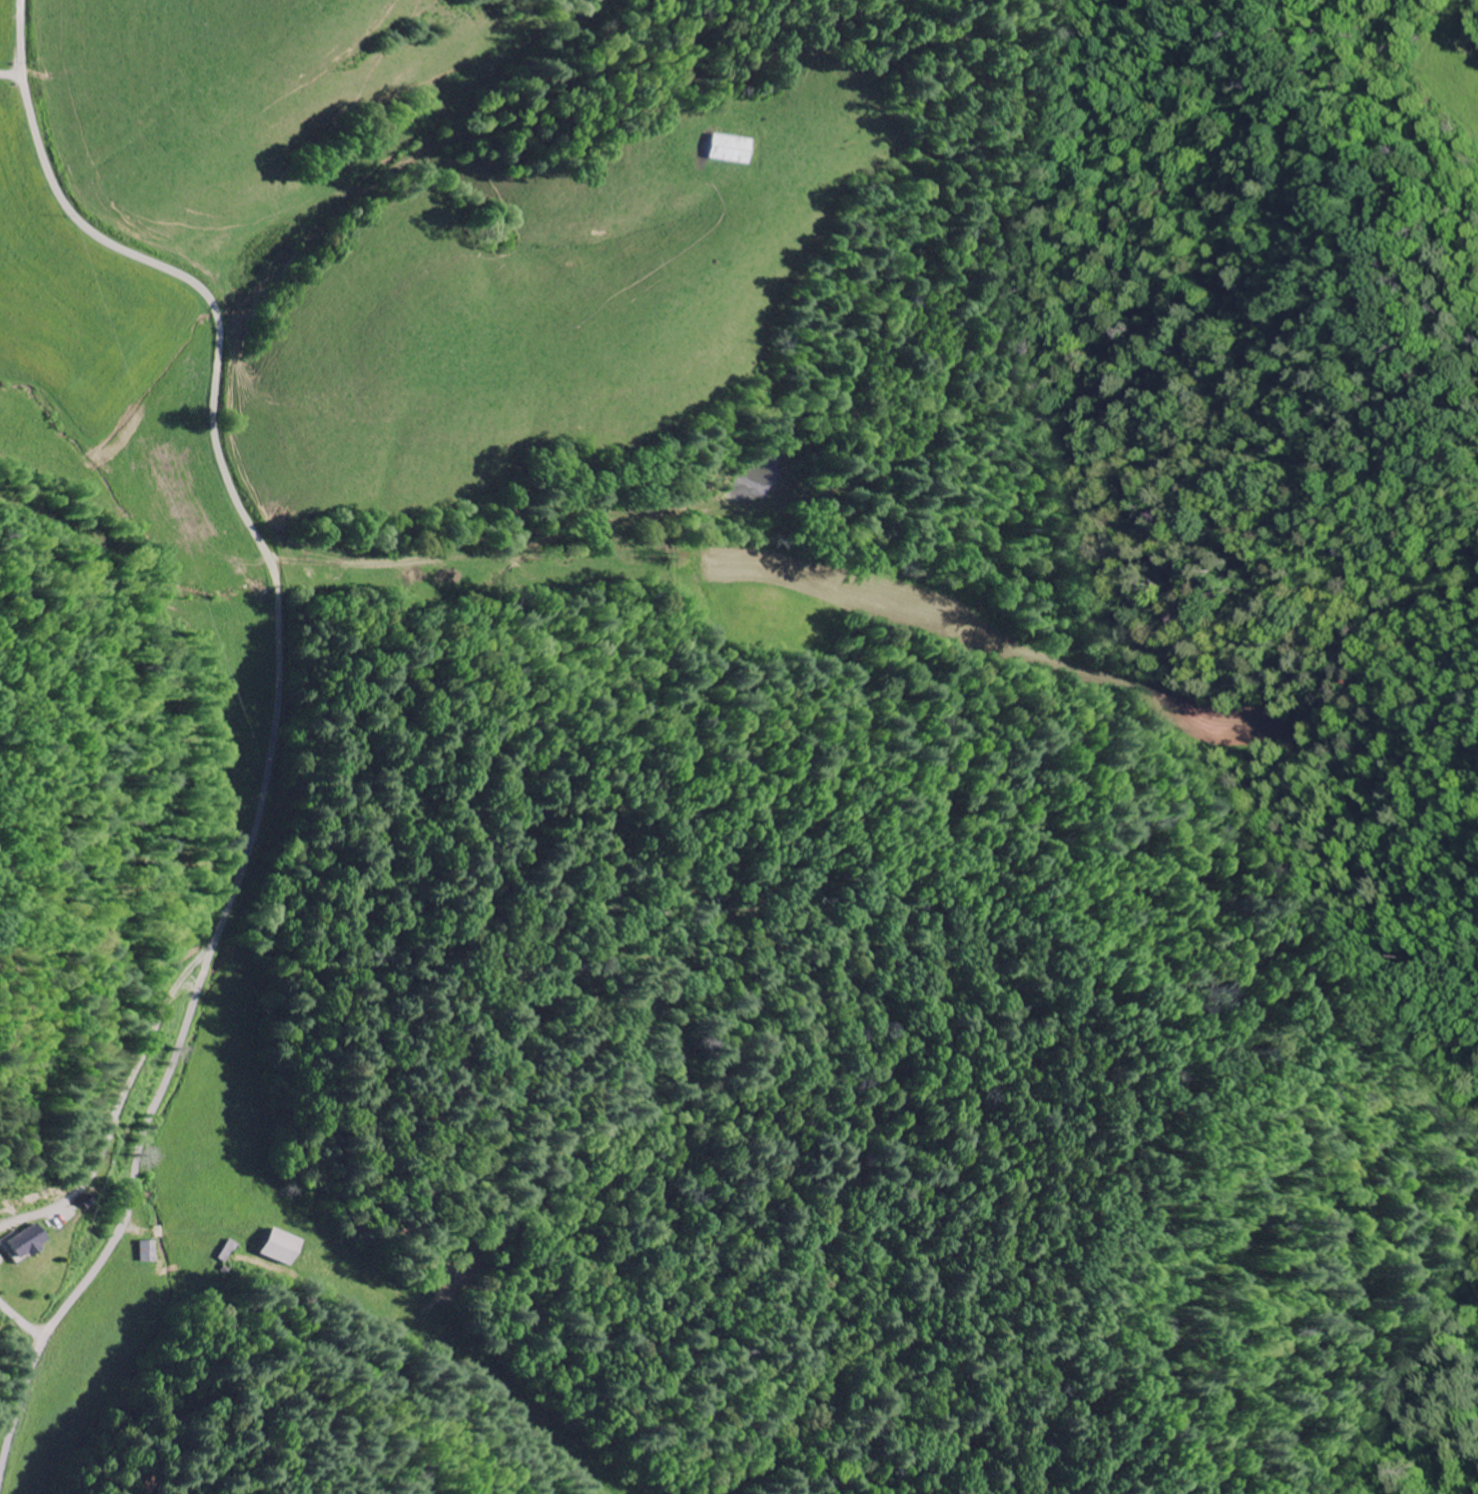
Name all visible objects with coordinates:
road: (280, 723)
building: (23, 1243)
building: (280, 1248)
building: (146, 1251)

